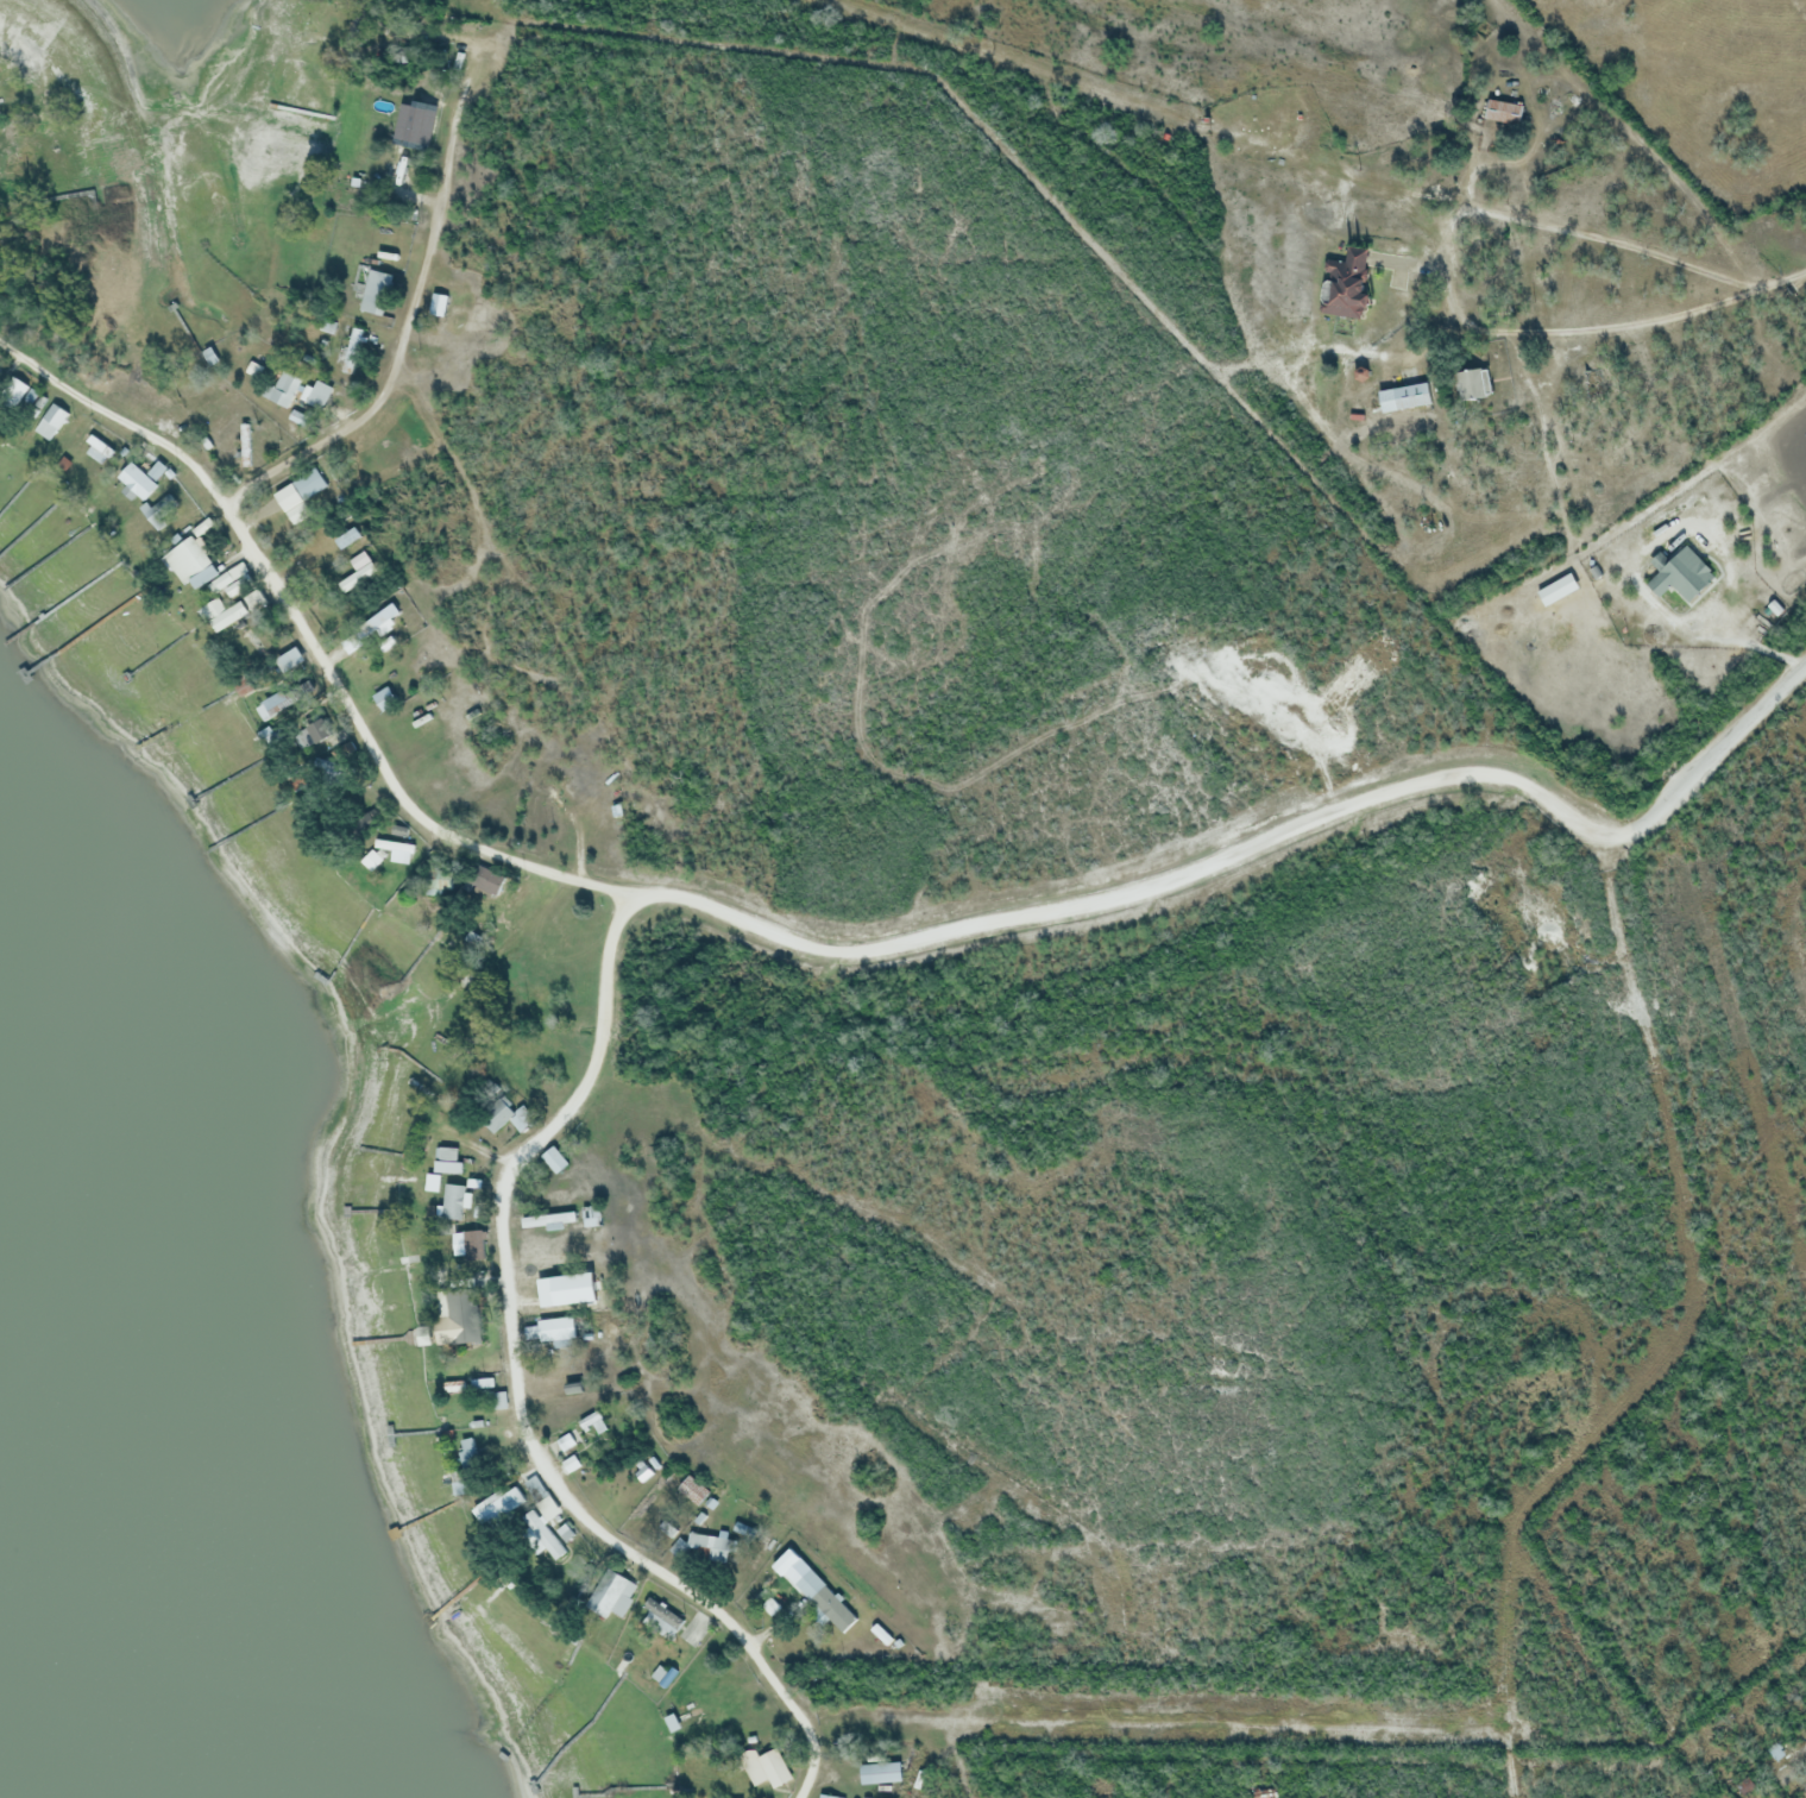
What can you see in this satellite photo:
building: (405, 54)
building: (459, 59)
building: (1504, 111)
building: (416, 121)
building: (407, 137)
building: (402, 199)
building: (1351, 285)
building: (378, 291)
building: (440, 304)
road: (404, 334)
building: (455, 339)
building: (355, 346)
building: (209, 356)
building: (1471, 383)
building: (285, 389)
building: (319, 392)
building: (13, 396)
building: (1405, 396)
road: (121, 417)
building: (300, 417)
building: (50, 421)
building: (100, 445)
building: (246, 445)
building: (141, 478)
building: (302, 490)
building: (157, 510)
building: (202, 526)
building: (348, 536)
building: (189, 562)
building: (359, 570)
building: (1681, 573)
building: (228, 576)
building: (1556, 589)
building: (1775, 606)
building: (228, 615)
building: (376, 622)
building: (290, 659)
building: (241, 685)
building: (285, 697)
building: (385, 698)
building: (317, 733)
road: (1725, 744)
road: (383, 761)
building: (298, 782)
building: (555, 799)
building: (618, 809)
building: (370, 818)
building: (398, 830)
building: (395, 849)
building: (370, 860)
building: (486, 878)
building: (440, 882)
road: (1150, 891)
building: (497, 1115)
building: (521, 1118)
building: (553, 1159)
building: (447, 1161)
building: (454, 1201)
building: (591, 1215)
building: (547, 1218)
building: (473, 1244)
building: (571, 1288)
building: (460, 1315)
building: (556, 1327)
building: (472, 1369)
building: (568, 1381)
building: (484, 1382)
building: (454, 1385)
road: (523, 1392)
building: (501, 1398)
building: (593, 1421)
building: (565, 1441)
building: (470, 1451)
building: (570, 1463)
building: (643, 1472)
building: (692, 1488)
building: (541, 1497)
building: (504, 1505)
building: (699, 1517)
building: (667, 1528)
building: (744, 1528)
building: (565, 1532)
building: (543, 1534)
building: (711, 1545)
building: (784, 1561)
building: (610, 1595)
building: (825, 1599)
building: (769, 1605)
building: (662, 1612)
building: (882, 1634)
building: (663, 1674)
building: (672, 1722)
building: (1775, 1752)
building: (767, 1767)
building: (880, 1773)
building: (829, 1796)

